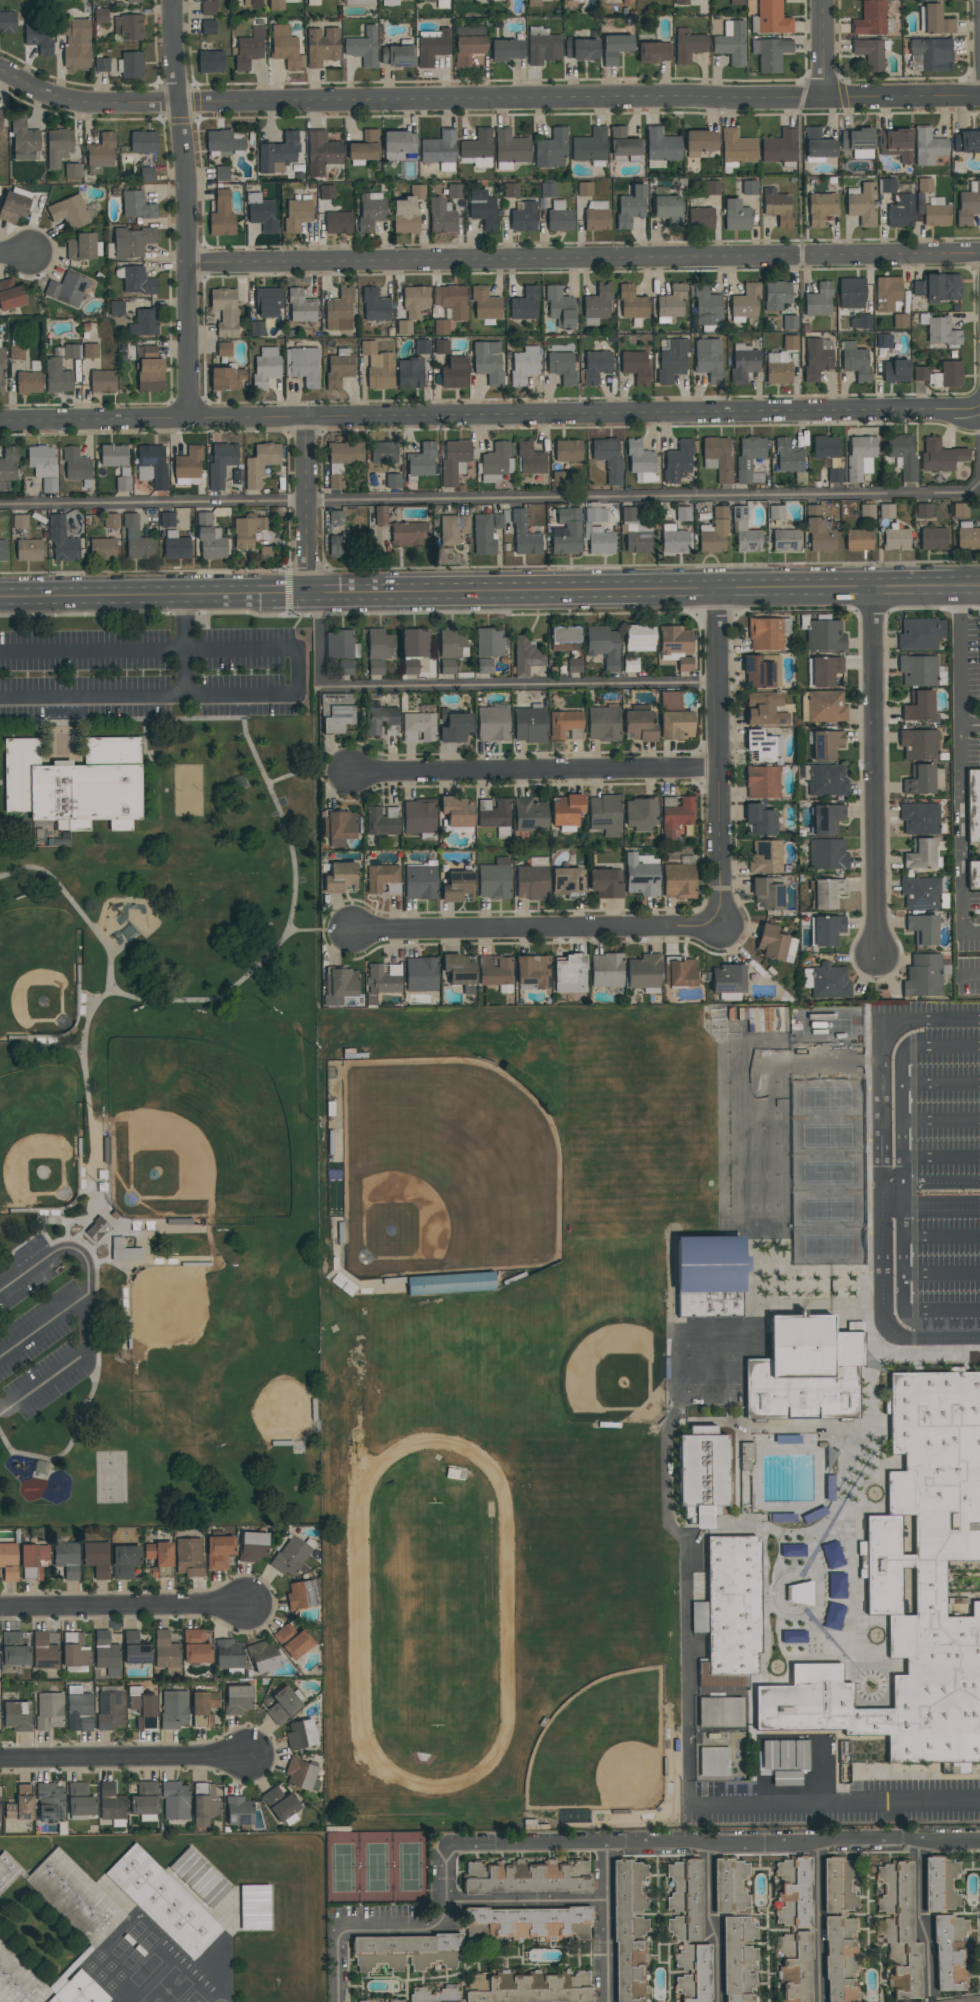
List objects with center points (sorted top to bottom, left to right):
building: (120, 0)
building: (419, 0)
building: (496, 0)
building: (577, 0)
building: (627, 1)
building: (313, 2)
building: (389, 2)
building: (681, 2)
building: (736, 2)
building: (252, 3)
building: (359, 3)
building: (534, 3)
building: (277, 5)
building: (208, 8)
building: (770, 18)
building: (872, 19)
building: (936, 21)
building: (7, 23)
building: (128, 27)
building: (208, 27)
building: (39, 38)
building: (75, 43)
building: (731, 43)
building: (688, 45)
building: (322, 46)
building: (432, 46)
building: (542, 46)
building: (286, 48)
building: (363, 48)
building: (615, 48)
road: (822, 48)
building: (249, 49)
building: (468, 49)
building: (581, 49)
building: (507, 50)
building: (654, 52)
building: (869, 54)
building: (932, 54)
building: (772, 55)
building: (397, 56)
building: (210, 61)
building: (132, 65)
road: (487, 98)
building: (0, 119)
building: (24, 141)
building: (143, 142)
building: (222, 142)
building: (858, 142)
building: (966, 142)
building: (700, 143)
building: (623, 144)
building: (896, 144)
building: (399, 146)
building: (817, 146)
building: (364, 147)
building: (590, 147)
building: (737, 147)
building: (780, 147)
building: (928, 147)
building: (58, 148)
building: (661, 148)
building: (510, 149)
building: (552, 149)
building: (439, 150)
building: (477, 150)
building: (101, 151)
building: (278, 152)
building: (322, 153)
building: (73, 170)
building: (147, 174)
building: (222, 174)
building: (924, 185)
building: (310, 186)
building: (887, 186)
building: (712, 188)
building: (749, 188)
building: (584, 189)
building: (511, 190)
building: (547, 190)
building: (454, 191)
building: (326, 192)
building: (861, 204)
building: (968, 204)
building: (136, 205)
building: (13, 207)
building: (631, 207)
building: (777, 207)
building: (821, 208)
road: (185, 209)
building: (482, 209)
building: (901, 209)
building: (371, 210)
building: (668, 210)
building: (408, 211)
building: (69, 212)
building: (261, 212)
building: (936, 213)
building: (297, 214)
building: (221, 215)
building: (441, 215)
building: (597, 216)
building: (736, 216)
building: (524, 218)
building: (559, 218)
building: (700, 218)
building: (338, 223)
building: (132, 242)
building: (83, 247)
road: (16, 255)
road: (582, 260)
building: (136, 281)
building: (938, 287)
building: (67, 289)
building: (851, 293)
building: (887, 293)
building: (10, 295)
building: (776, 295)
building: (819, 300)
building: (268, 301)
building: (451, 301)
building: (415, 302)
building: (746, 302)
building: (632, 303)
building: (485, 304)
building: (671, 304)
building: (525, 305)
building: (597, 305)
building: (374, 306)
building: (301, 307)
building: (115, 308)
building: (560, 308)
building: (708, 309)
building: (225, 311)
building: (339, 311)
building: (860, 321)
building: (900, 321)
building: (789, 322)
building: (144, 323)
building: (404, 327)
building: (441, 327)
building: (256, 328)
building: (942, 332)
building: (0, 339)
building: (790, 342)
building: (422, 346)
building: (441, 346)
building: (223, 349)
building: (16, 352)
building: (71, 352)
building: (817, 358)
building: (709, 359)
building: (671, 360)
building: (855, 361)
building: (488, 362)
building: (743, 363)
building: (302, 365)
building: (523, 365)
building: (378, 366)
building: (596, 366)
building: (635, 366)
building: (265, 367)
building: (562, 367)
building: (778, 368)
building: (339, 369)
building: (2, 370)
building: (149, 370)
building: (896, 371)
building: (410, 373)
building: (454, 373)
building: (920, 374)
building: (951, 374)
building: (57, 377)
building: (226, 379)
building: (103, 381)
building: (29, 382)
road: (490, 418)
building: (825, 447)
building: (568, 451)
building: (384, 453)
building: (113, 455)
building: (859, 455)
building: (902, 455)
building: (940, 455)
building: (748, 457)
building: (788, 457)
building: (717, 458)
building: (530, 459)
building: (608, 459)
building: (342, 460)
building: (454, 460)
building: (422, 461)
building: (678, 461)
building: (496, 462)
building: (641, 462)
building: (188, 463)
building: (221, 464)
building: (260, 464)
building: (76, 465)
building: (8, 466)
building: (43, 466)
building: (152, 466)
building: (833, 476)
building: (393, 481)
building: (123, 484)
road: (491, 501)
road: (307, 507)
building: (960, 510)
building: (886, 511)
building: (923, 511)
building: (776, 512)
building: (867, 512)
building: (683, 514)
building: (380, 515)
building: (111, 521)
building: (20, 522)
building: (248, 529)
building: (453, 529)
building: (489, 530)
building: (567, 531)
building: (597, 531)
building: (634, 531)
building: (714, 532)
building: (745, 532)
building: (175, 533)
building: (524, 533)
building: (407, 534)
building: (967, 535)
building: (338, 536)
building: (896, 538)
building: (932, 538)
building: (209, 539)
building: (674, 539)
building: (785, 539)
building: (858, 539)
building: (62, 540)
building: (136, 540)
building: (102, 549)
building: (2, 550)
building: (29, 550)
road: (490, 591)
road: (186, 624)
building: (767, 633)
building: (920, 634)
building: (825, 635)
building: (564, 639)
building: (639, 639)
building: (674, 640)
building: (416, 642)
building: (489, 642)
building: (341, 645)
building: (603, 646)
building: (449, 648)
building: (378, 649)
road: (962, 653)
building: (526, 656)
building: (684, 664)
building: (573, 665)
building: (410, 666)
building: (484, 666)
building: (345, 668)
building: (825, 669)
building: (918, 670)
parking lot: (151, 673)
road: (298, 674)
road: (186, 676)
road: (470, 688)
building: (826, 706)
building: (919, 706)
building: (765, 709)
building: (338, 714)
building: (674, 717)
building: (382, 721)
road: (971, 722)
road: (243, 724)
building: (492, 724)
building: (529, 724)
building: (565, 724)
building: (603, 724)
building: (454, 725)
building: (638, 725)
building: (418, 727)
road: (37, 732)
road: (145, 743)
building: (919, 743)
building: (826, 744)
building: (760, 746)
road: (718, 758)
road: (874, 772)
road: (534, 773)
road: (292, 774)
building: (919, 780)
building: (762, 781)
building: (827, 781)
road: (2, 783)
building: (75, 785)
park: (188, 791)
building: (973, 806)
building: (566, 808)
building: (456, 811)
building: (494, 812)
building: (677, 812)
building: (639, 813)
building: (605, 814)
building: (530, 815)
building: (419, 816)
building: (827, 818)
building: (919, 818)
building: (761, 819)
building: (382, 820)
road: (17, 825)
building: (339, 826)
road: (961, 826)
building: (502, 833)
building: (828, 854)
building: (921, 855)
building: (766, 858)
building: (641, 875)
building: (973, 875)
building: (341, 877)
building: (383, 878)
building: (679, 878)
building: (532, 879)
building: (566, 880)
building: (421, 881)
building: (493, 881)
building: (604, 882)
building: (458, 886)
building: (828, 892)
building: (920, 892)
building: (767, 894)
building: (922, 928)
road: (538, 930)
building: (826, 930)
road: (970, 931)
building: (771, 942)
building: (532, 970)
building: (606, 970)
building: (459, 971)
building: (495, 971)
building: (682, 971)
building: (570, 973)
building: (644, 973)
park: (39, 974)
building: (421, 974)
road: (968, 974)
building: (923, 976)
building: (384, 978)
building: (341, 981)
building: (729, 981)
building: (829, 981)
road: (118, 993)
building: (761, 1019)
road: (945, 1019)
road: (901, 1065)
park: (160, 1073)
road: (940, 1082)
park: (208, 1119)
road: (940, 1120)
park: (625, 1123)
park: (755, 1133)
park: (40, 1140)
road: (92, 1155)
road: (880, 1155)
park: (828, 1156)
road: (941, 1157)
road: (901, 1171)
park: (450, 1172)
road: (930, 1184)
road: (930, 1207)
road: (904, 1221)
road: (145, 1231)
building: (97, 1234)
road: (940, 1234)
road: (209, 1244)
building: (128, 1254)
road: (164, 1262)
road: (123, 1269)
road: (901, 1271)
road: (941, 1271)
building: (709, 1275)
road: (88, 1279)
building: (450, 1283)
road: (940, 1311)
park: (174, 1323)
parking lot: (45, 1329)
road: (97, 1330)
road: (920, 1338)
park: (605, 1359)
road: (65, 1368)
building: (805, 1370)
park: (478, 1375)
park: (272, 1401)
road: (20, 1453)
building: (746, 1456)
building: (702, 1474)
park: (111, 1478)
building: (252, 1546)
park: (590, 1547)
building: (219, 1552)
building: (158, 1553)
building: (832, 1555)
building: (189, 1557)
building: (291, 1557)
building: (67, 1559)
building: (96, 1559)
building: (33, 1561)
building: (124, 1561)
building: (8, 1562)
building: (836, 1586)
building: (911, 1590)
building: (798, 1593)
building: (301, 1595)
road: (125, 1609)
building: (729, 1612)
park: (436, 1615)
building: (833, 1618)
building: (292, 1641)
building: (195, 1647)
building: (13, 1649)
building: (134, 1649)
building: (74, 1650)
building: (44, 1652)
building: (166, 1652)
building: (106, 1654)
building: (228, 1654)
building: (263, 1657)
building: (238, 1700)
building: (283, 1706)
building: (204, 1708)
building: (78, 1710)
building: (110, 1710)
building: (174, 1710)
building: (49, 1711)
building: (720, 1712)
building: (17, 1716)
building: (300, 1734)
park: (601, 1742)
road: (799, 1743)
road: (122, 1760)
building: (714, 1761)
building: (300, 1774)
building: (80, 1800)
building: (145, 1801)
building: (175, 1801)
building: (49, 1802)
building: (111, 1802)
building: (20, 1804)
road: (704, 1804)
building: (204, 1805)
building: (282, 1805)
building: (239, 1811)
road: (687, 1842)
park: (376, 1869)
building: (199, 1877)
building: (528, 1878)
building: (839, 1885)
building: (730, 1886)
building: (941, 1886)
building: (67, 1895)
building: (163, 1902)
road: (462, 1903)
building: (254, 1907)
road: (919, 1921)
building: (533, 1922)
road: (604, 1922)
road: (713, 1922)
road: (815, 1922)
building: (688, 1928)
building: (629, 1929)
building: (794, 1929)
building: (899, 1929)
building: (749, 1930)
park: (257, 1949)
building: (406, 1952)
building: (950, 1954)
building: (738, 1964)
road: (338, 1969)
building: (529, 1988)
building: (433, 1995)
building: (364, 2001)
road: (972, 2001)

